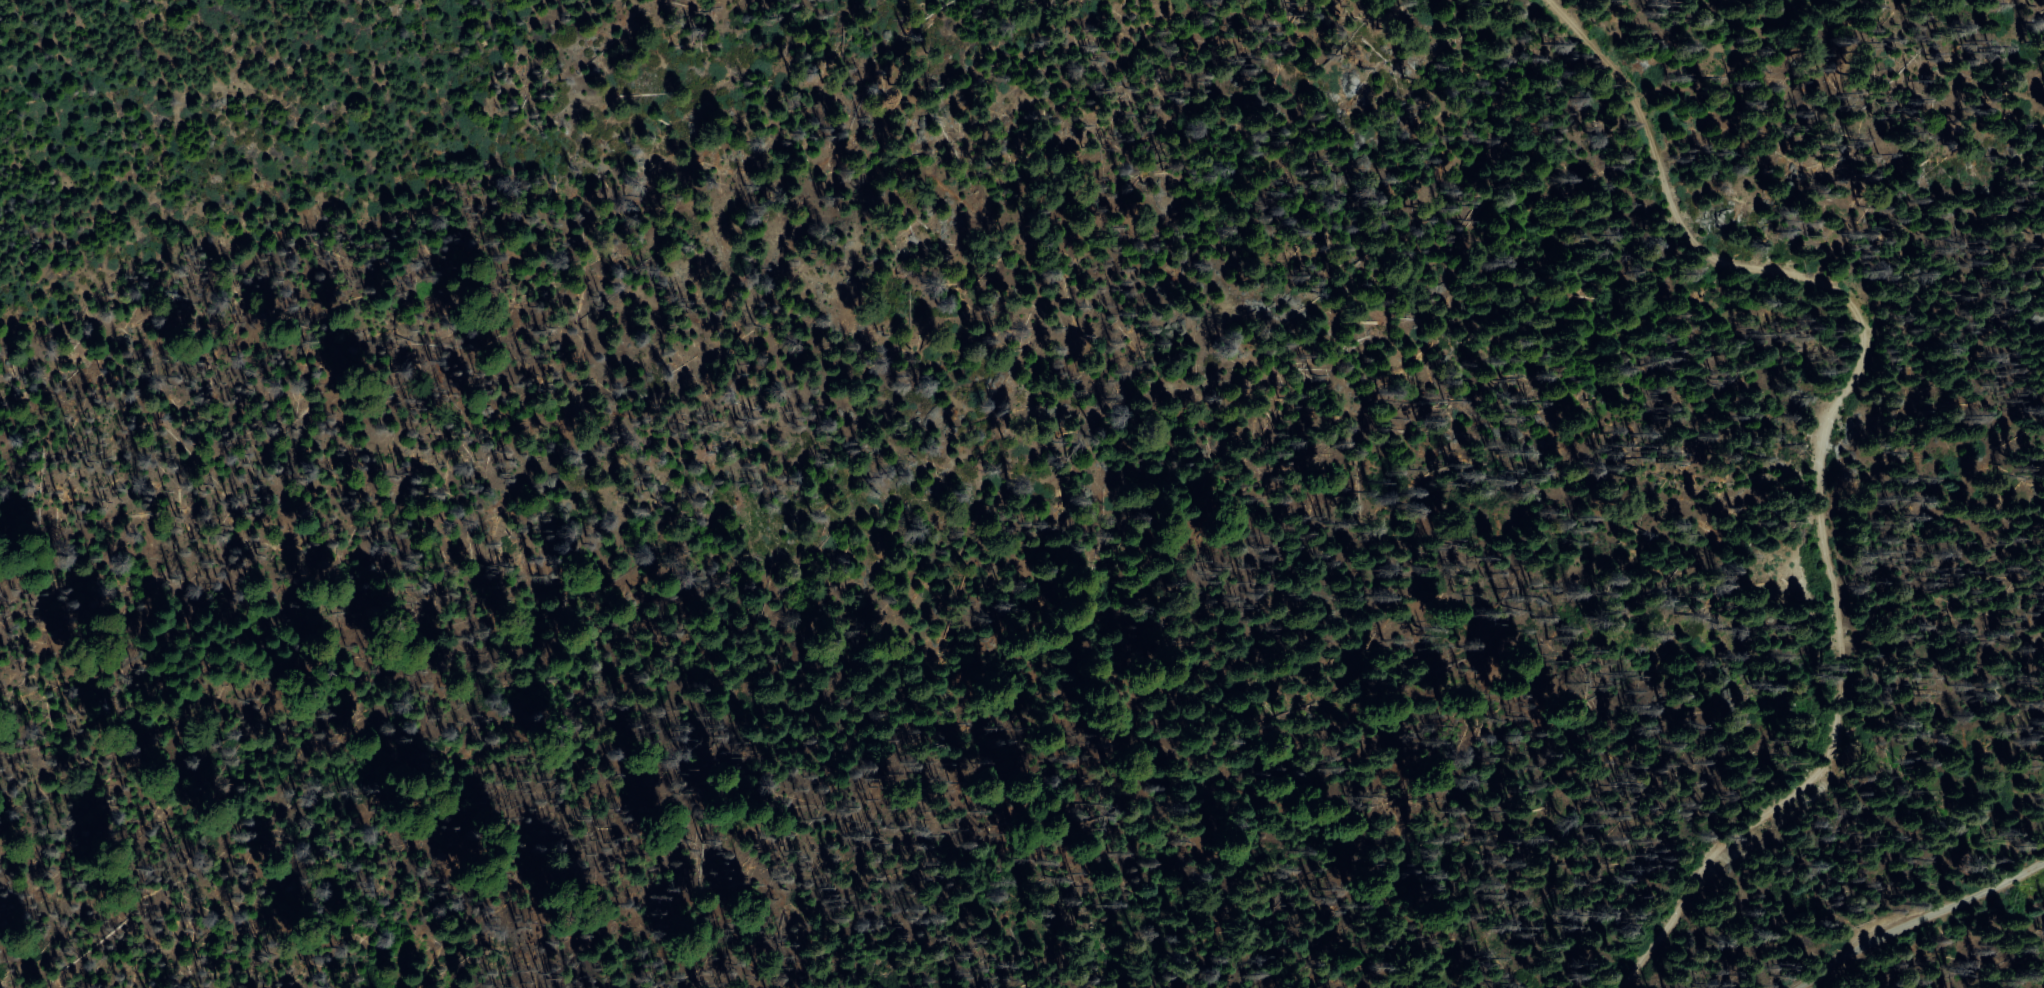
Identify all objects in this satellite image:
road: (1826, 461)
road: (1923, 919)

